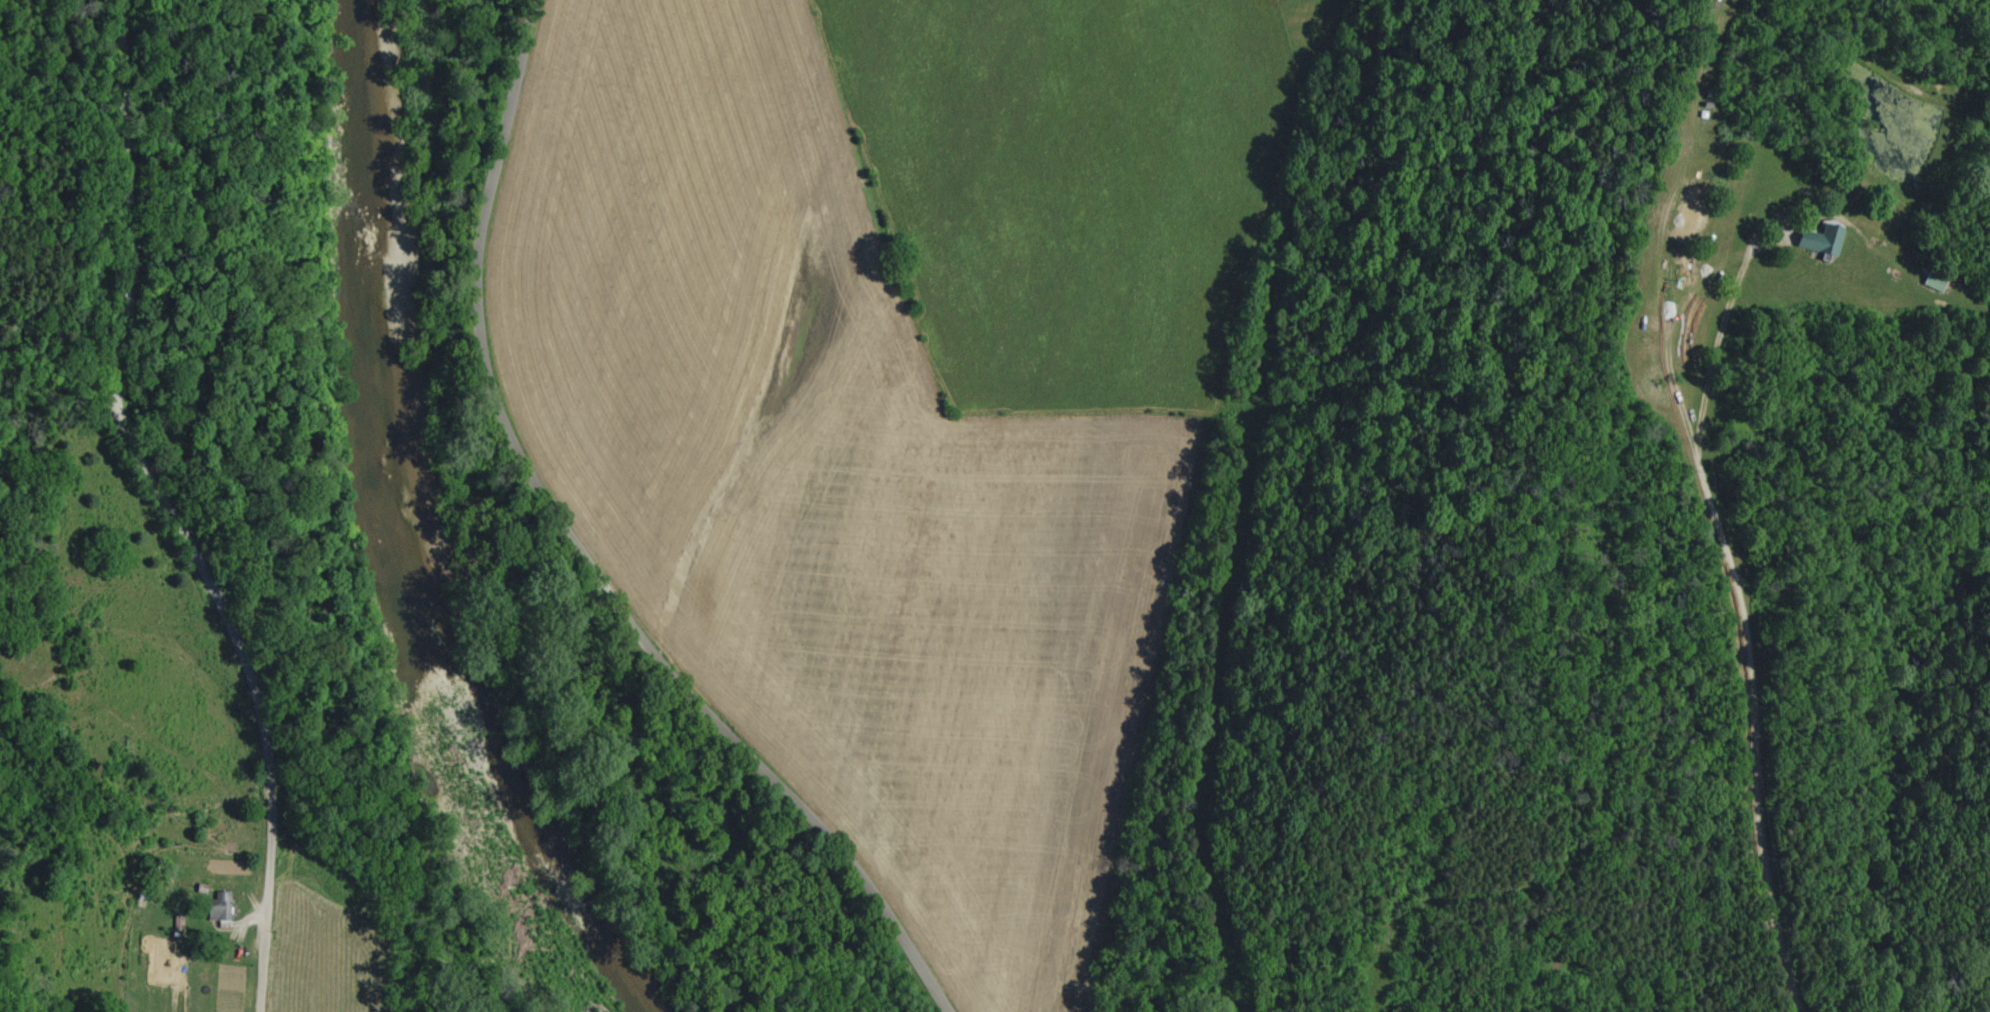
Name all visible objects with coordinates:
building: (1814, 241)
building: (1929, 281)
crop: (899, 398)
road: (170, 510)
river: (393, 532)
road: (584, 556)
road: (1740, 594)
building: (219, 907)
crop: (326, 941)

